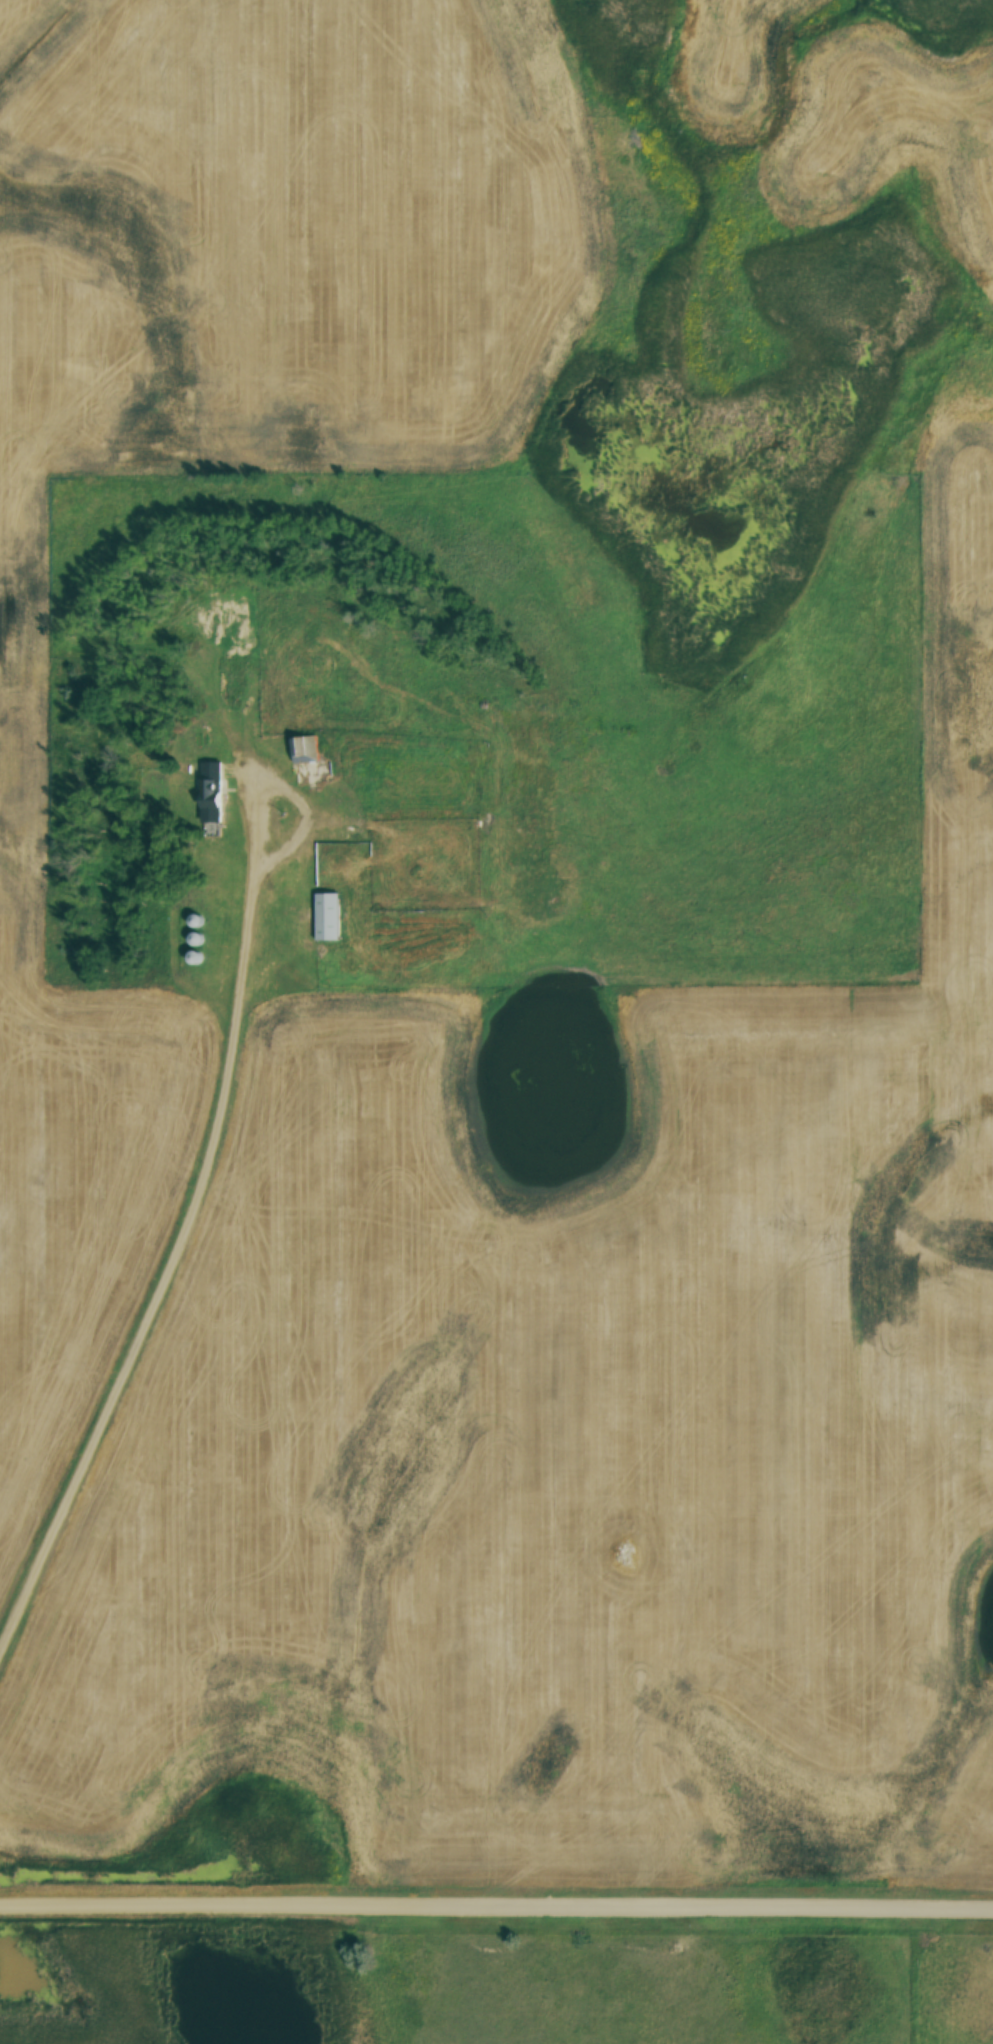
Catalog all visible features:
building: (199, 646)
building: (270, 715)
building: (307, 747)
road: (247, 753)
building: (210, 790)
building: (326, 915)
road: (204, 1208)
road: (496, 1906)

